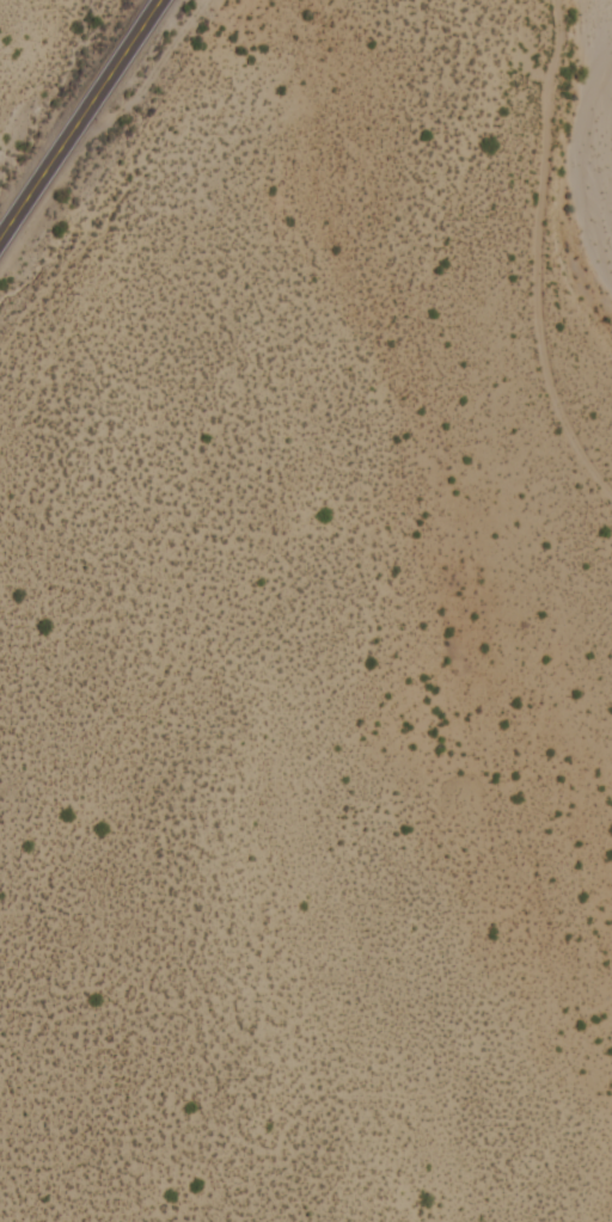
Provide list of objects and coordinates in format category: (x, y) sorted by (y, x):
road: (81, 121)

